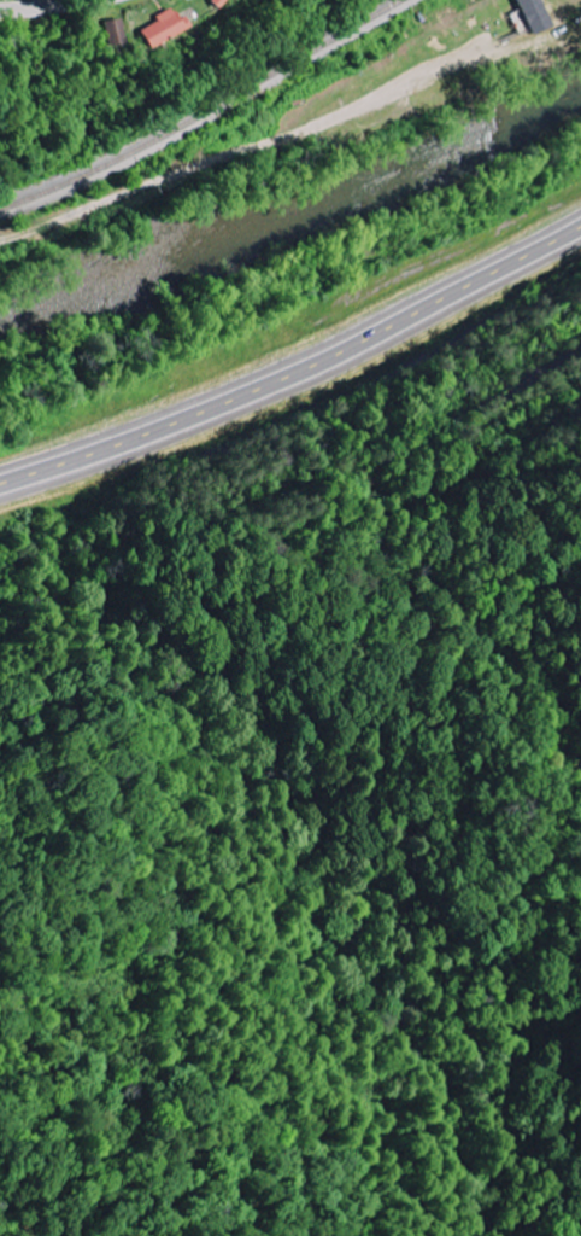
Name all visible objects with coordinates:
building: (211, 2)
road: (43, 6)
building: (534, 14)
building: (158, 27)
building: (110, 30)
railway: (203, 112)
road: (240, 148)
river: (293, 210)
road: (297, 377)

